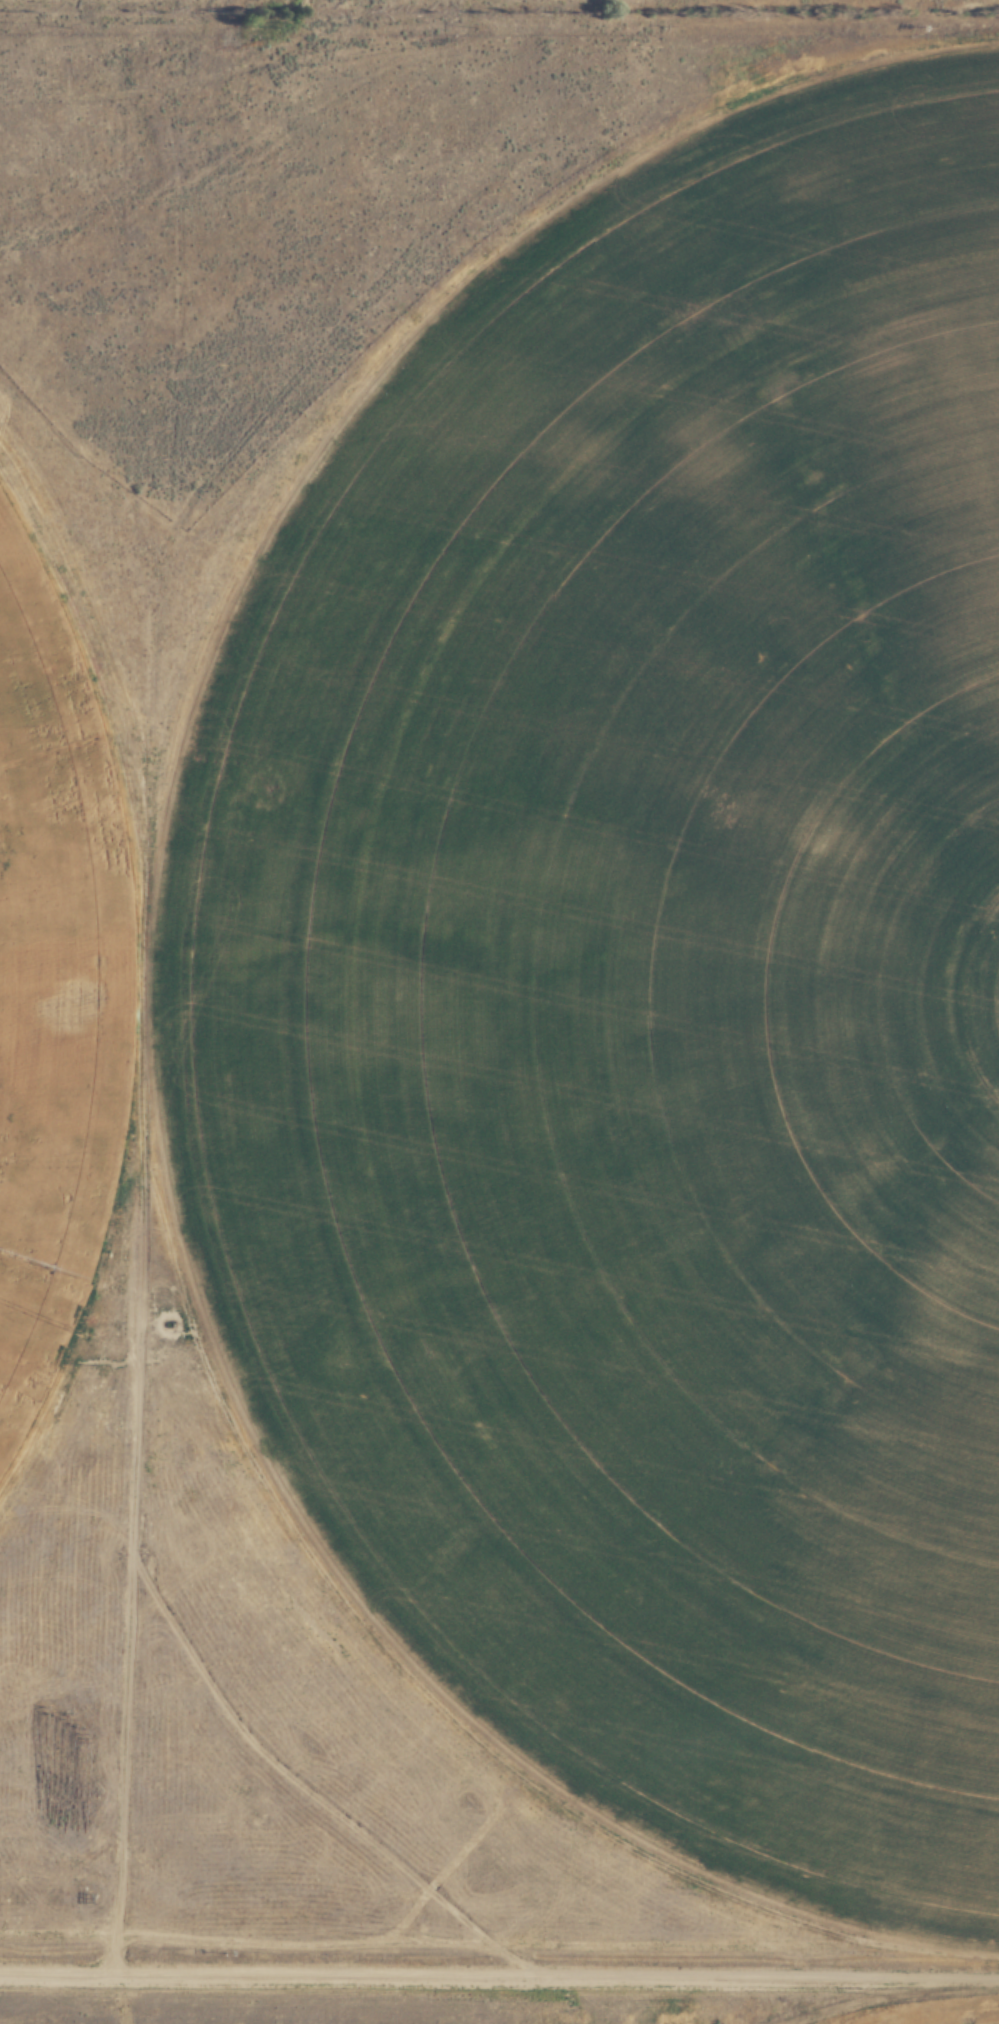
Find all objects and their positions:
crop: (656, 979)
crop: (62, 1015)

